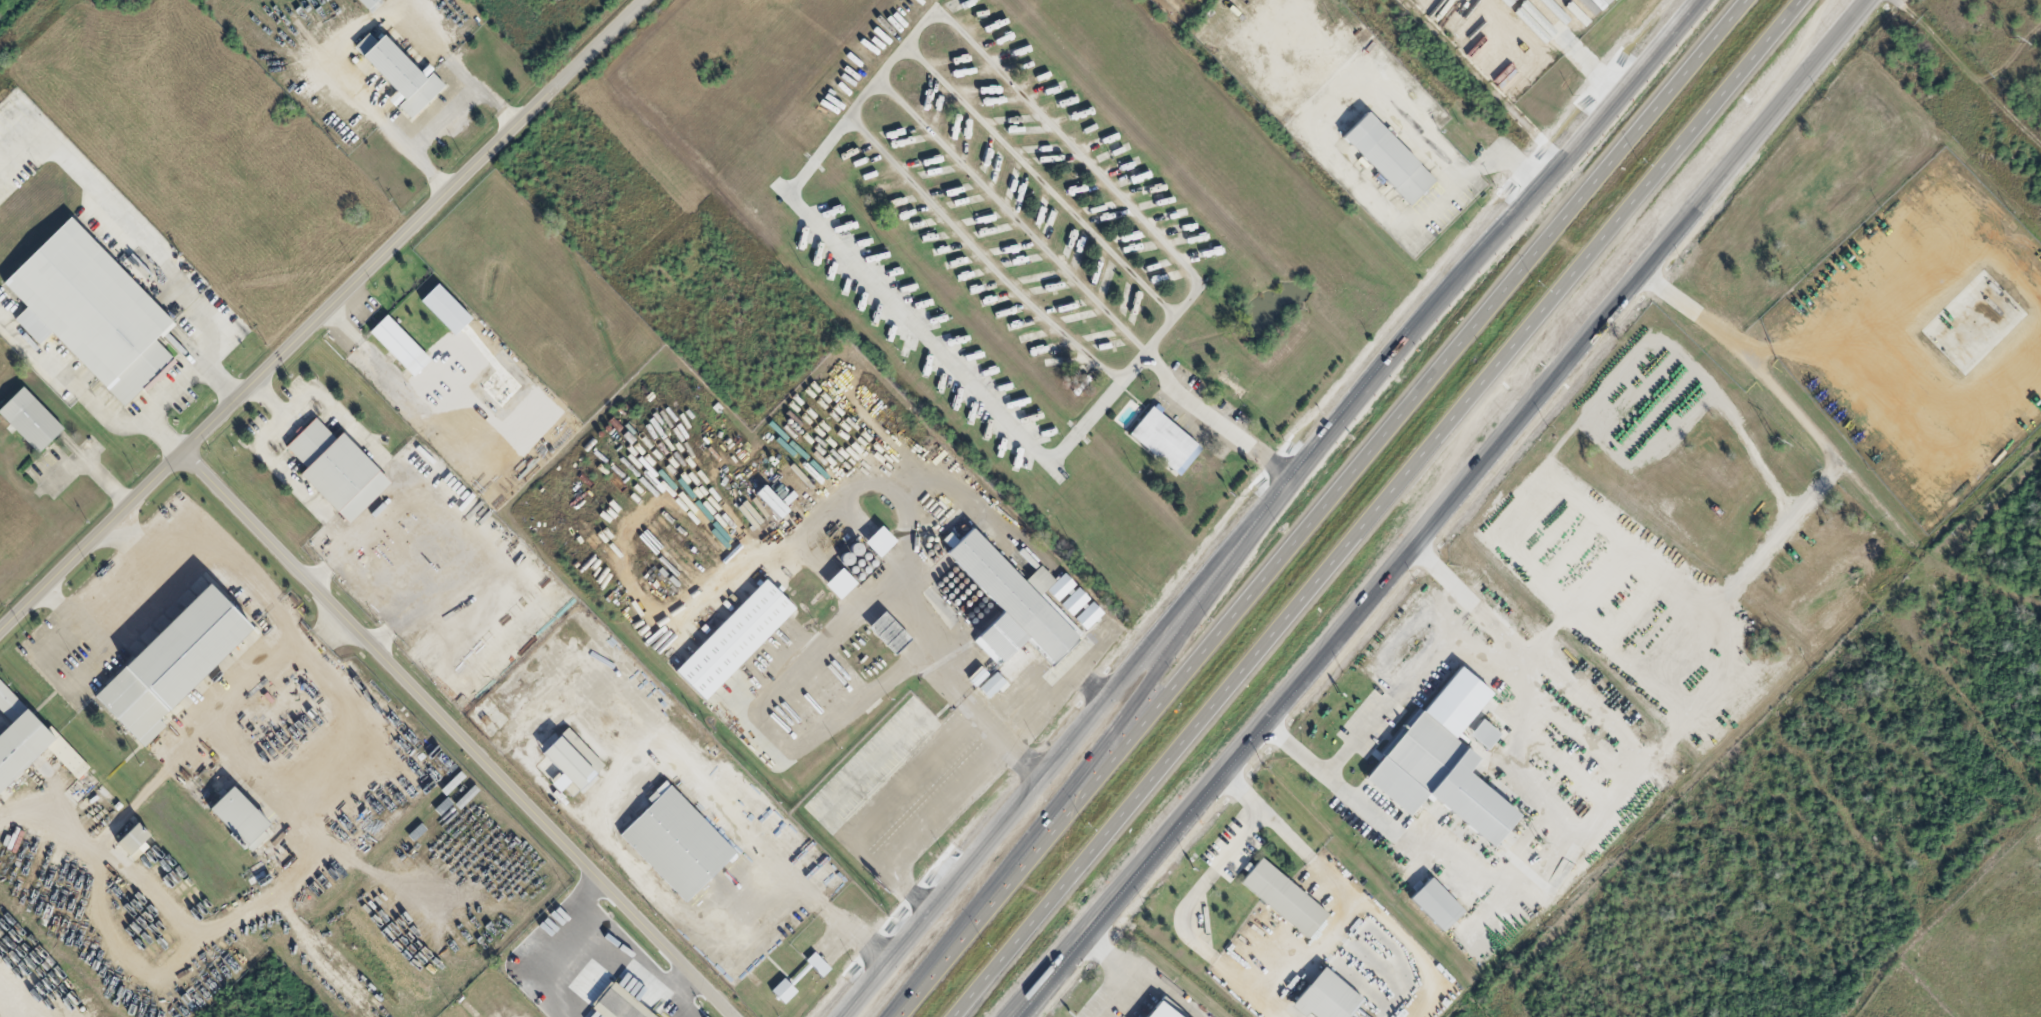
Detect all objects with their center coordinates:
building: (364, 3)
building: (1175, 6)
power tower: (2010, 39)
building: (397, 74)
road: (1657, 107)
road: (1700, 119)
building: (1386, 159)
road: (418, 227)
road: (1629, 249)
building: (87, 302)
building: (443, 309)
building: (397, 345)
building: (31, 420)
building: (1163, 438)
power tower: (1774, 441)
building: (335, 470)
building: (770, 501)
road: (1265, 505)
road: (1446, 506)
building: (877, 541)
road: (93, 542)
building: (837, 583)
building: (1014, 600)
building: (1074, 601)
building: (1088, 615)
road: (1238, 615)
road: (1278, 627)
building: (890, 633)
building: (734, 637)
building: (189, 648)
building: (992, 686)
road: (1147, 695)
road: (468, 734)
building: (1480, 734)
building: (20, 745)
building: (69, 760)
building: (569, 761)
building: (1441, 761)
building: (241, 818)
building: (129, 839)
power tower: (1537, 841)
building: (677, 844)
building: (1284, 898)
building: (1437, 904)
road: (1087, 934)
building: (817, 964)
building: (782, 991)
building: (1324, 997)
building: (617, 1004)
building: (1159, 1011)

